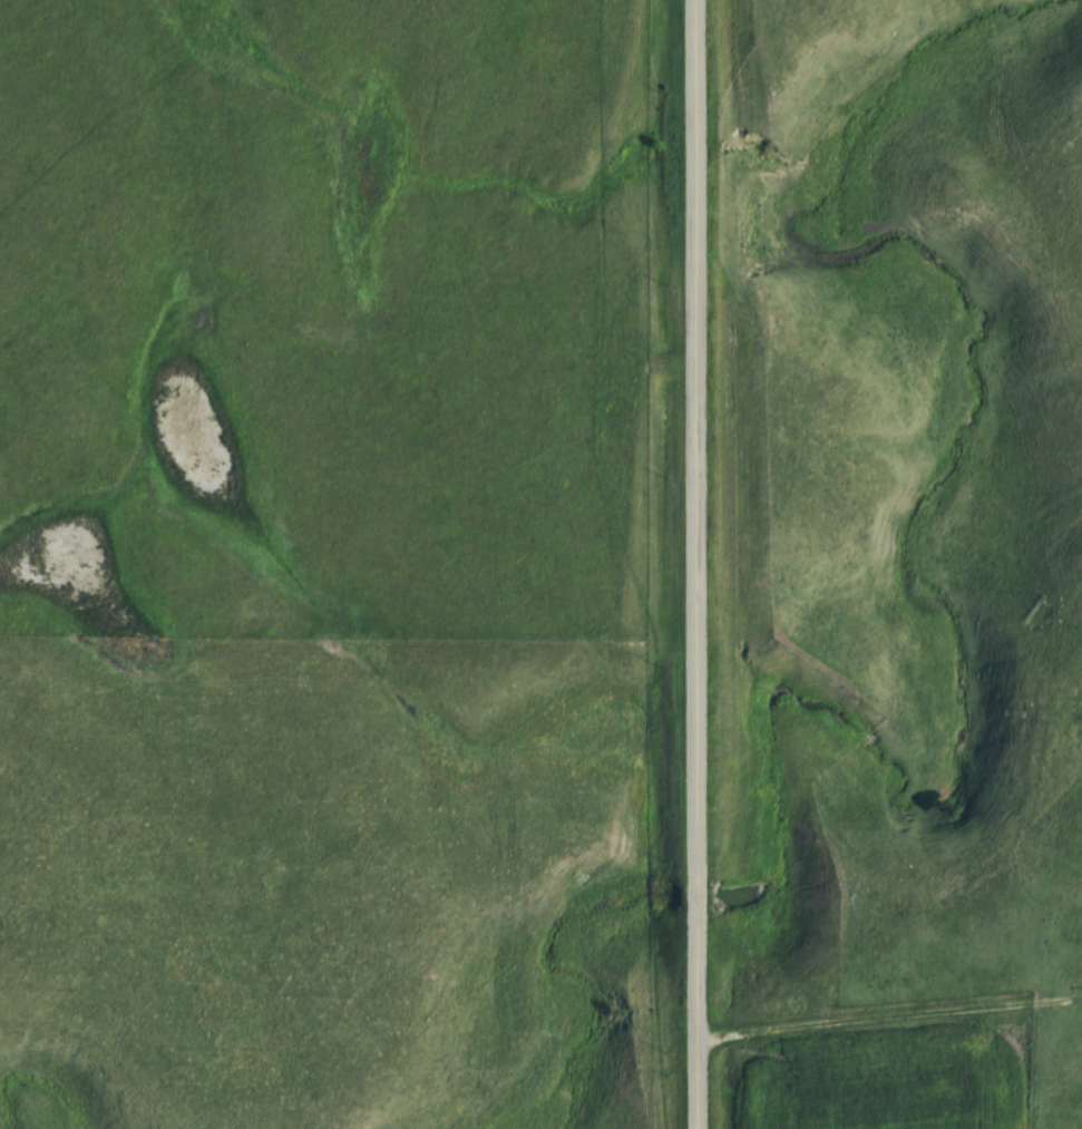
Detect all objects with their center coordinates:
road: (694, 442)
road: (694, 895)
road: (694, 1018)

